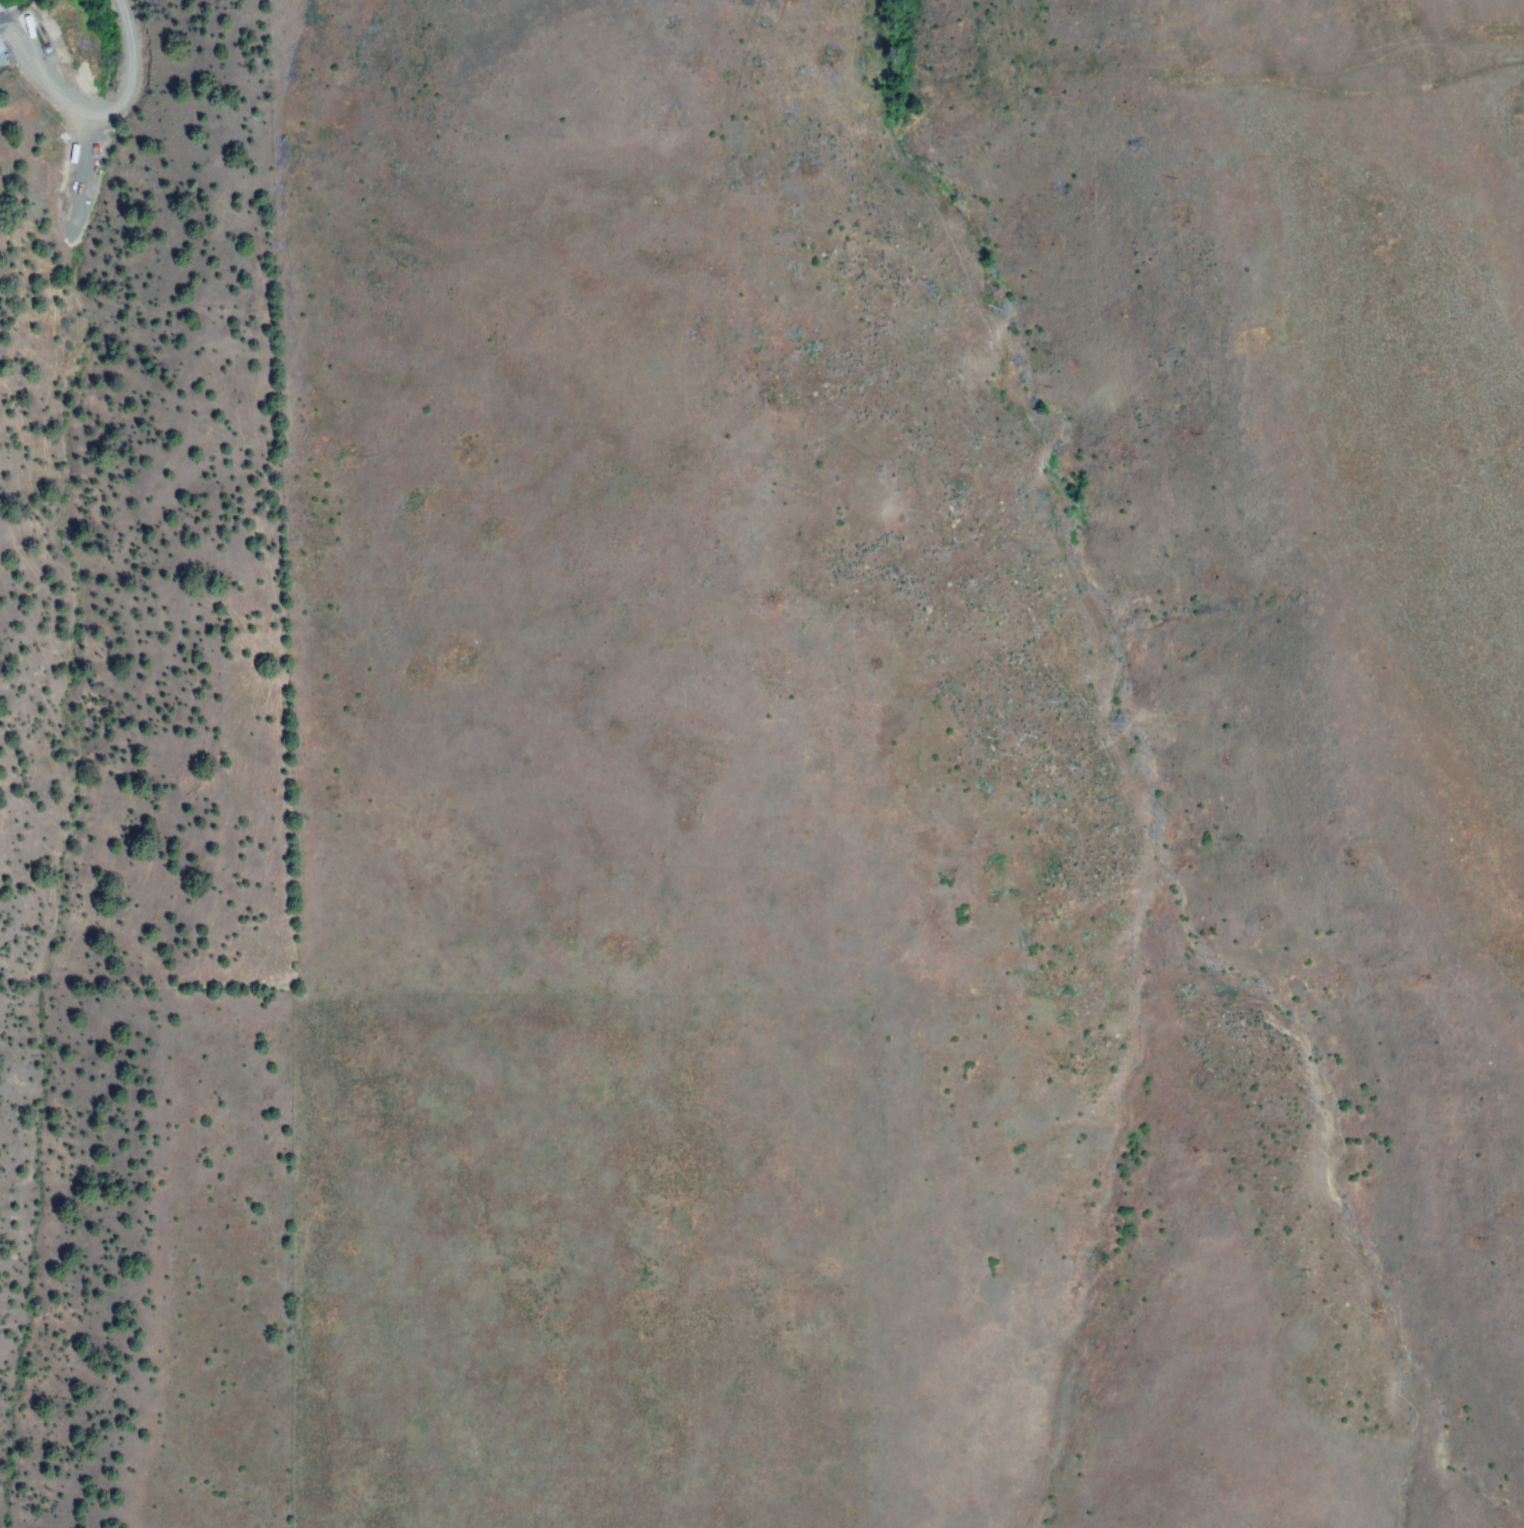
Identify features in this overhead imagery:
road: (122, 88)

